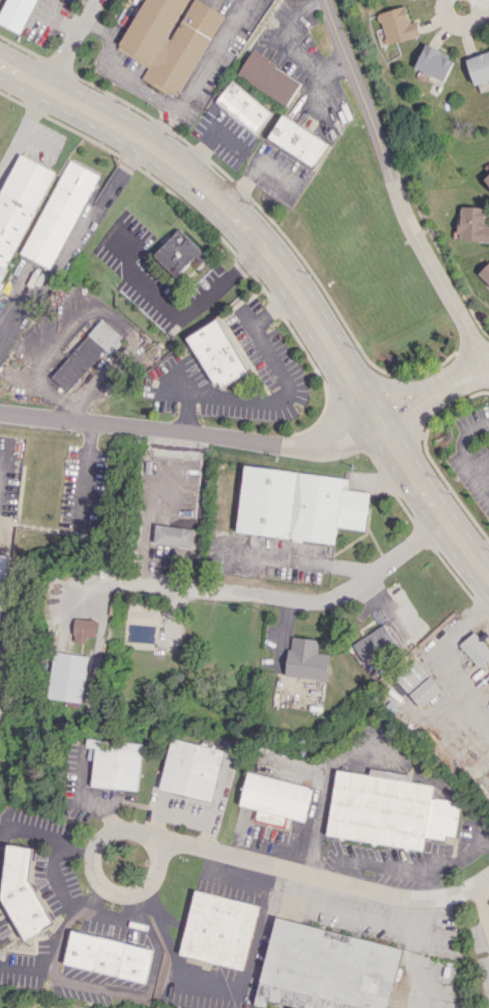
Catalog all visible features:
building: (16, 13)
road: (463, 24)
building: (397, 25)
building: (170, 40)
road: (71, 42)
road: (212, 54)
building: (434, 62)
building: (479, 67)
building: (269, 78)
road: (136, 82)
building: (243, 107)
road: (22, 123)
building: (298, 139)
road: (251, 171)
building: (487, 179)
building: (110, 187)
road: (395, 188)
building: (19, 201)
building: (58, 213)
building: (473, 223)
building: (179, 252)
road: (60, 259)
building: (485, 272)
road: (285, 274)
road: (180, 313)
building: (85, 353)
building: (217, 353)
road: (388, 385)
road: (432, 393)
road: (282, 395)
road: (416, 431)
road: (190, 433)
road: (466, 449)
parking lot: (473, 450)
building: (298, 505)
building: (173, 535)
road: (283, 557)
building: (1, 570)
road: (149, 583)
road: (351, 584)
building: (83, 629)
building: (374, 641)
building: (475, 646)
building: (306, 659)
building: (68, 676)
building: (417, 683)
road: (369, 737)
building: (115, 763)
building: (191, 768)
building: (275, 794)
building: (378, 809)
road: (42, 835)
road: (445, 861)
road: (374, 864)
road: (54, 877)
road: (95, 877)
road: (328, 878)
building: (22, 893)
road: (113, 914)
building: (218, 927)
road: (55, 939)
building: (108, 956)
building: (331, 964)
road: (142, 990)

